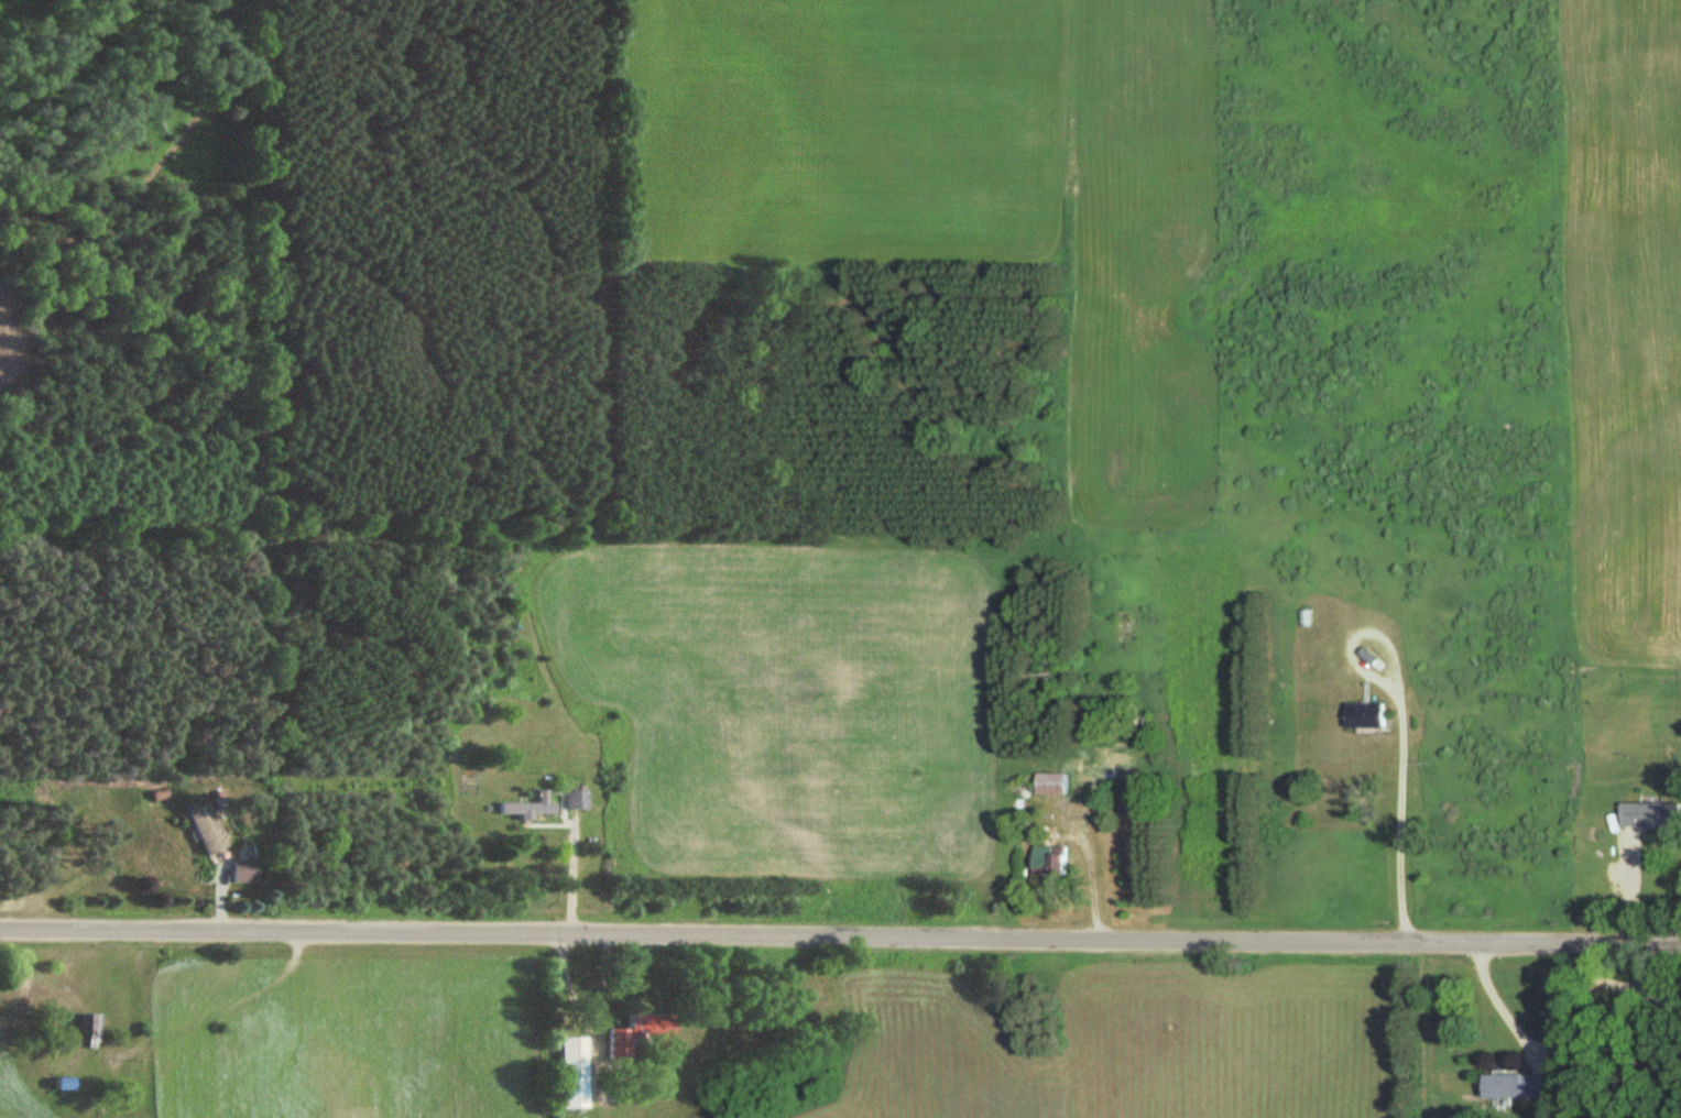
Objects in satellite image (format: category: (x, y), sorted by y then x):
building: (1367, 714)
building: (1052, 783)
building: (578, 800)
building: (528, 809)
building: (1652, 815)
building: (207, 829)
building: (1051, 862)
road: (1090, 885)
road: (840, 942)
building: (88, 1024)
building: (637, 1035)
building: (572, 1074)
building: (1513, 1085)

